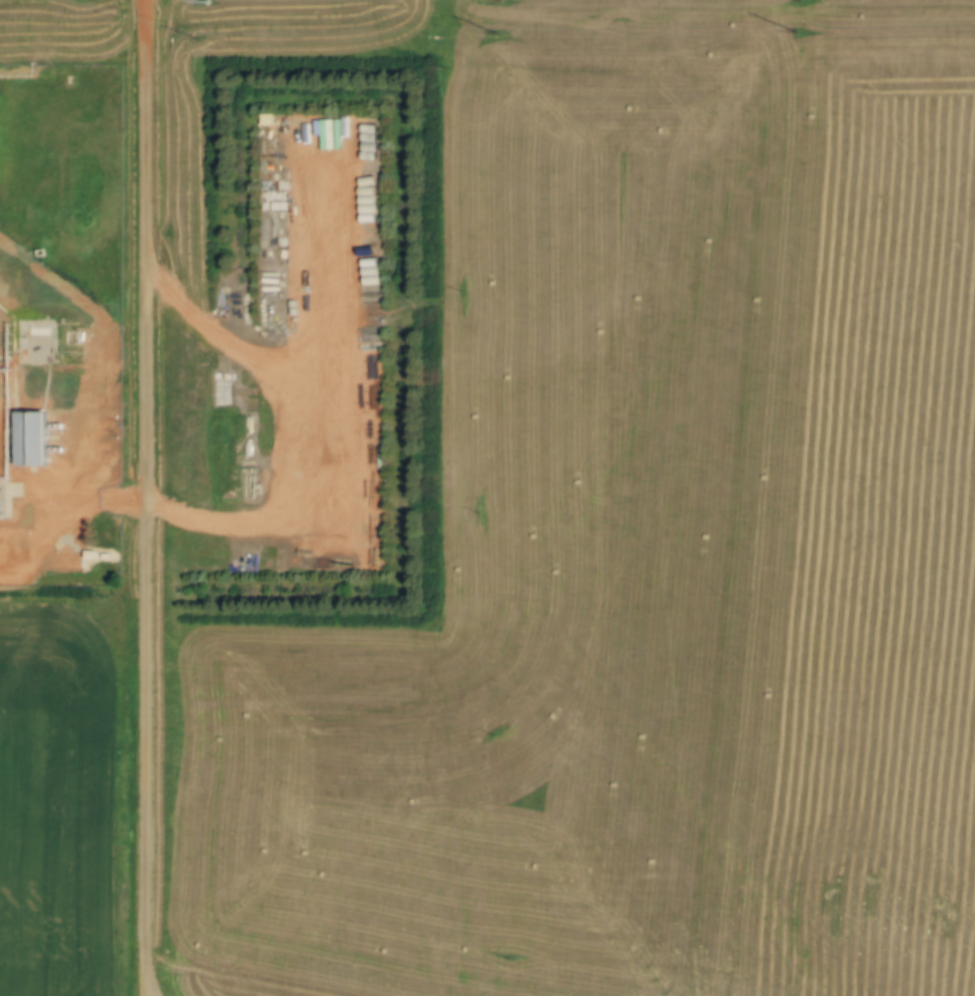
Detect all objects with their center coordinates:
building: (32, 438)
road: (149, 494)
road: (148, 993)

